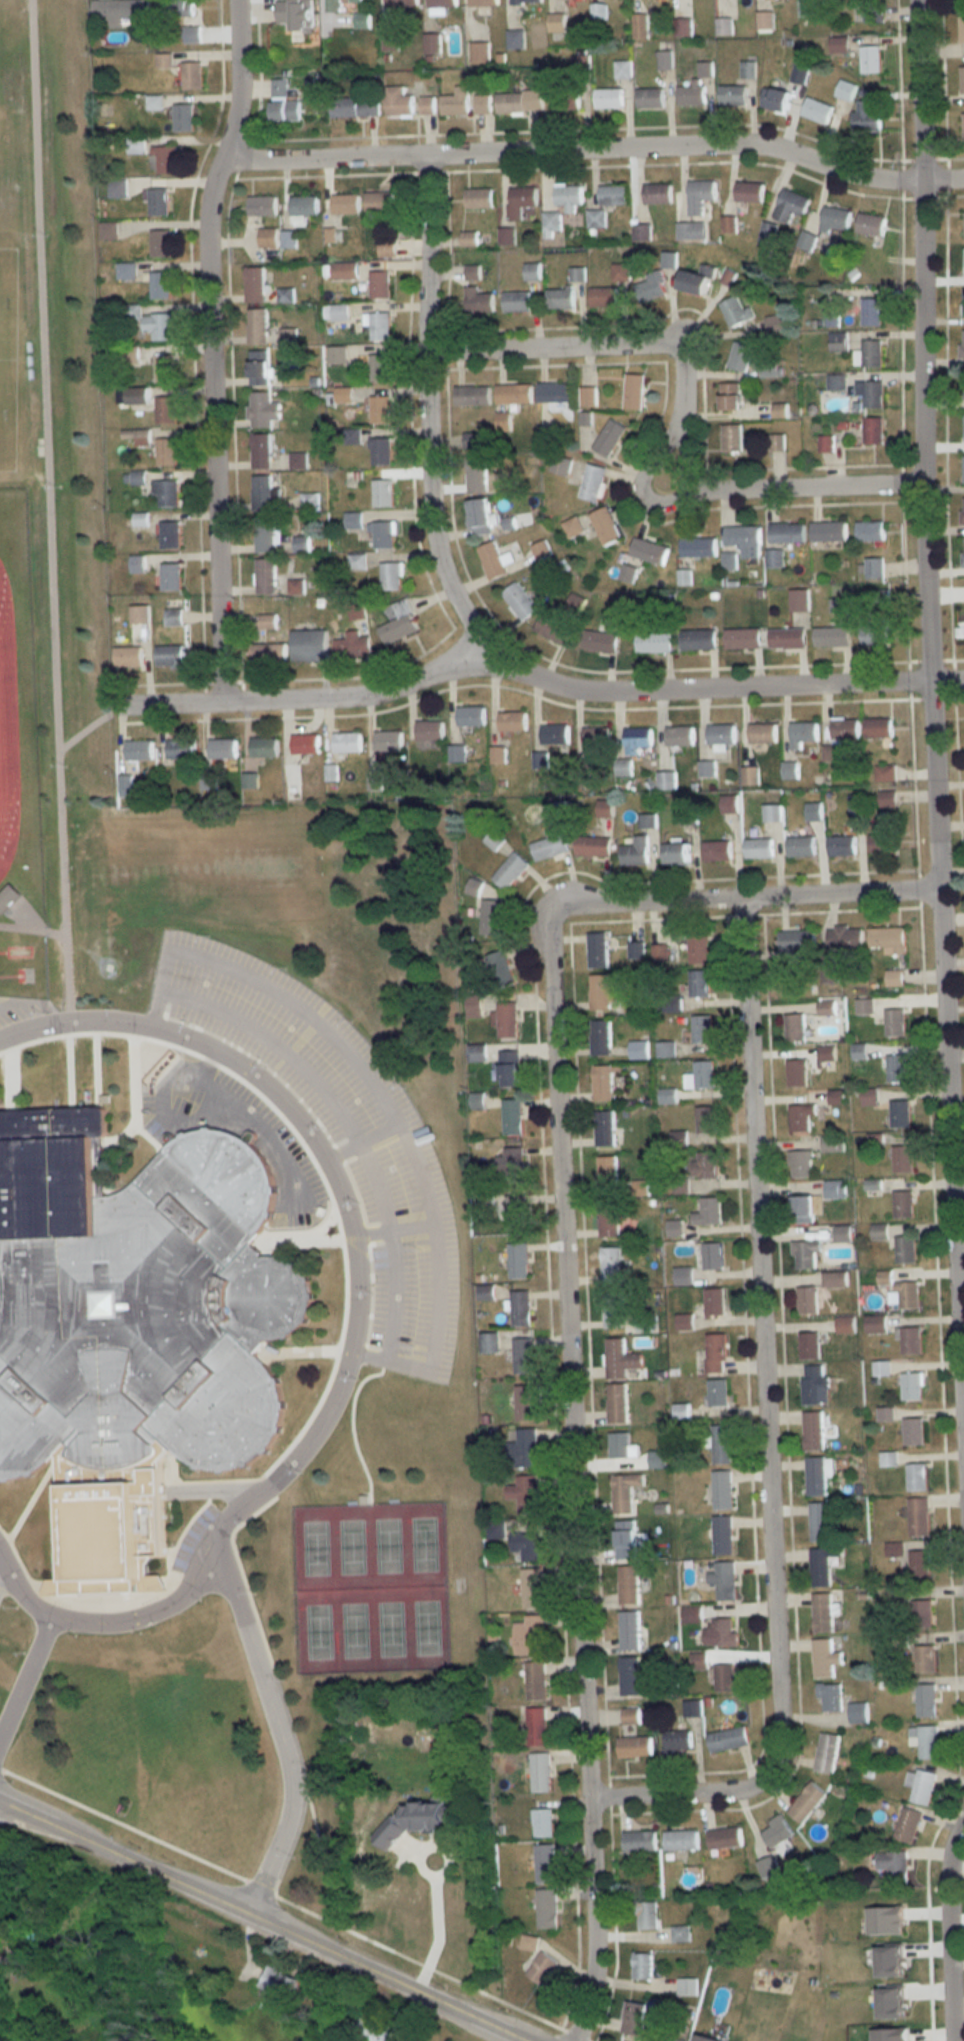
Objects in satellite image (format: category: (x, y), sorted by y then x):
building: (526, 1)
building: (483, 2)
building: (401, 3)
building: (441, 5)
building: (175, 7)
building: (806, 8)
building: (119, 11)
building: (349, 12)
building: (297, 17)
building: (873, 18)
building: (765, 20)
building: (556, 22)
building: (682, 27)
building: (962, 28)
building: (190, 34)
building: (515, 39)
building: (389, 41)
building: (432, 43)
building: (839, 44)
building: (479, 52)
building: (870, 58)
building: (663, 59)
building: (705, 66)
building: (802, 66)
building: (622, 69)
building: (748, 69)
building: (192, 75)
building: (962, 79)
building: (846, 89)
building: (692, 93)
building: (733, 95)
building: (649, 97)
building: (565, 98)
building: (608, 98)
building: (776, 98)
building: (398, 100)
building: (455, 101)
building: (518, 101)
building: (283, 103)
building: (481, 103)
building: (426, 104)
building: (354, 106)
building: (817, 109)
building: (867, 116)
building: (182, 117)
building: (963, 126)
road: (594, 152)
building: (165, 159)
building: (750, 191)
building: (657, 193)
building: (568, 195)
building: (612, 195)
building: (700, 195)
building: (478, 198)
building: (158, 201)
building: (378, 201)
building: (520, 201)
building: (344, 203)
building: (303, 205)
building: (791, 205)
building: (262, 206)
building: (595, 218)
building: (835, 218)
building: (871, 223)
building: (691, 230)
building: (108, 231)
building: (641, 232)
building: (767, 233)
building: (267, 238)
building: (468, 239)
building: (161, 244)
building: (385, 248)
building: (344, 271)
building: (532, 271)
building: (472, 273)
building: (697, 280)
building: (379, 284)
building: (160, 285)
building: (254, 285)
building: (652, 287)
building: (604, 297)
building: (560, 298)
building: (478, 301)
building: (517, 301)
building: (963, 302)
building: (737, 311)
building: (871, 311)
building: (338, 313)
building: (776, 323)
building: (378, 325)
building: (158, 326)
building: (257, 326)
building: (287, 336)
building: (962, 343)
road: (208, 351)
building: (871, 353)
building: (336, 354)
building: (740, 355)
building: (164, 367)
building: (259, 367)
building: (377, 368)
building: (771, 368)
building: (963, 385)
building: (634, 391)
building: (514, 394)
building: (869, 394)
building: (343, 395)
building: (472, 395)
building: (556, 395)
building: (731, 395)
building: (588, 396)
building: (262, 409)
building: (165, 410)
building: (379, 410)
road: (684, 410)
building: (779, 410)
road: (424, 412)
building: (872, 430)
building: (137, 436)
building: (609, 437)
building: (732, 438)
building: (470, 440)
building: (776, 443)
building: (825, 443)
building: (166, 451)
building: (261, 451)
building: (380, 451)
building: (298, 461)
building: (561, 465)
building: (963, 469)
building: (476, 474)
building: (592, 482)
building: (166, 493)
building: (262, 493)
building: (382, 493)
building: (309, 502)
building: (962, 511)
building: (480, 517)
building: (352, 521)
building: (606, 526)
building: (573, 527)
building: (828, 531)
building: (870, 531)
building: (787, 533)
building: (170, 535)
building: (264, 535)
building: (384, 535)
building: (745, 540)
building: (699, 547)
building: (541, 549)
building: (649, 551)
building: (963, 552)
building: (774, 558)
building: (491, 560)
building: (729, 561)
building: (874, 567)
building: (265, 576)
building: (391, 576)
building: (171, 577)
building: (296, 586)
building: (798, 600)
building: (519, 601)
building: (841, 606)
building: (173, 617)
building: (140, 622)
building: (267, 622)
building: (400, 623)
building: (553, 630)
building: (875, 633)
building: (832, 636)
building: (742, 638)
building: (788, 638)
building: (698, 640)
building: (600, 641)
building: (654, 643)
building: (310, 645)
building: (358, 646)
building: (267, 653)
building: (128, 656)
building: (169, 656)
road: (530, 676)
building: (470, 715)
building: (512, 721)
road: (931, 726)
building: (878, 728)
building: (846, 729)
building: (429, 730)
building: (763, 733)
building: (803, 733)
building: (554, 734)
building: (721, 734)
building: (679, 736)
building: (597, 737)
building: (637, 740)
building: (389, 741)
building: (347, 742)
building: (305, 744)
building: (264, 747)
building: (222, 749)
building: (139, 750)
building: (181, 750)
building: (457, 754)
building: (497, 755)
building: (790, 770)
building: (750, 775)
building: (667, 780)
building: (888, 798)
building: (729, 803)
building: (605, 808)
building: (814, 811)
building: (555, 812)
building: (772, 812)
building: (687, 815)
building: (647, 821)
building: (883, 843)
building: (841, 845)
building: (593, 846)
building: (801, 846)
building: (550, 847)
building: (759, 848)
building: (717, 850)
building: (636, 852)
building: (676, 854)
building: (510, 871)
building: (474, 887)
building: (6, 896)
road: (745, 899)
building: (490, 917)
building: (796, 940)
building: (866, 940)
building: (598, 950)
building: (636, 950)
building: (698, 950)
building: (660, 954)
building: (501, 969)
building: (894, 978)
building: (699, 984)
building: (603, 991)
building: (634, 1006)
building: (474, 1007)
building: (864, 1007)
road: (299, 1011)
building: (507, 1020)
building: (895, 1022)
building: (795, 1028)
building: (702, 1029)
building: (600, 1038)
road: (273, 1043)
building: (639, 1050)
building: (477, 1053)
building: (897, 1068)
building: (510, 1069)
building: (797, 1073)
building: (704, 1075)
building: (604, 1082)
building: (900, 1113)
building: (513, 1117)
building: (801, 1117)
road: (245, 1119)
building: (706, 1119)
building: (605, 1129)
building: (902, 1159)
building: (801, 1164)
building: (512, 1166)
building: (706, 1166)
building: (608, 1174)
building: (641, 1188)
building: (835, 1189)
road: (342, 1194)
road: (424, 1199)
building: (903, 1204)
road: (382, 1209)
building: (802, 1209)
building: (708, 1212)
building: (516, 1214)
building: (609, 1220)
building: (905, 1250)
building: (805, 1254)
building: (712, 1256)
building: (518, 1261)
building: (612, 1266)
building: (486, 1292)
road: (393, 1294)
building: (907, 1296)
building: (807, 1300)
building: (714, 1302)
building: (521, 1309)
building: (618, 1311)
building: (845, 1325)
building: (875, 1325)
building: (132, 1328)
road: (430, 1334)
building: (910, 1341)
building: (489, 1343)
building: (808, 1347)
building: (716, 1353)
building: (524, 1357)
building: (620, 1360)
building: (814, 1387)
building: (912, 1387)
building: (718, 1393)
building: (617, 1403)
building: (524, 1404)
building: (813, 1431)
road: (765, 1432)
building: (913, 1432)
building: (721, 1444)
building: (526, 1448)
building: (621, 1449)
road: (570, 1475)
building: (816, 1476)
building: (917, 1477)
building: (722, 1490)
building: (625, 1492)
building: (525, 1493)
building: (919, 1516)
building: (820, 1521)
building: (722, 1535)
building: (626, 1539)
building: (526, 1544)
park: (422, 1545)
park: (386, 1546)
park: (351, 1547)
park: (314, 1548)
building: (894, 1549)
building: (920, 1563)
building: (826, 1566)
road: (4, 1571)
building: (725, 1581)
building: (628, 1584)
building: (532, 1587)
building: (823, 1612)
building: (921, 1613)
road: (103, 1620)
park: (425, 1628)
park: (389, 1629)
building: (629, 1630)
park: (353, 1631)
park: (317, 1632)
building: (721, 1632)
building: (530, 1635)
building: (825, 1658)
building: (925, 1658)
road: (25, 1670)
building: (630, 1676)
building: (726, 1679)
building: (536, 1680)
building: (830, 1697)
building: (926, 1700)
building: (858, 1712)
building: (630, 1715)
building: (537, 1726)
road: (279, 1738)
building: (728, 1739)
building: (924, 1740)
building: (678, 1742)
building: (634, 1746)
building: (827, 1752)
building: (540, 1772)
building: (921, 1785)
building: (807, 1802)
building: (542, 1823)
building: (907, 1824)
building: (777, 1831)
building: (725, 1838)
building: (681, 1840)
building: (640, 1841)
road: (419, 1862)
building: (545, 1863)
building: (767, 1866)
building: (894, 1866)
road: (294, 1905)
building: (547, 1909)
building: (646, 1915)
road: (258, 1918)
building: (680, 1934)
road: (947, 1935)
road: (437, 1937)
building: (529, 1941)
road: (929, 1950)
building: (642, 1966)
building: (542, 1968)
building: (282, 1982)
building: (686, 1987)
building: (633, 2018)
building: (364, 2028)
building: (388, 2035)
building: (673, 2039)

